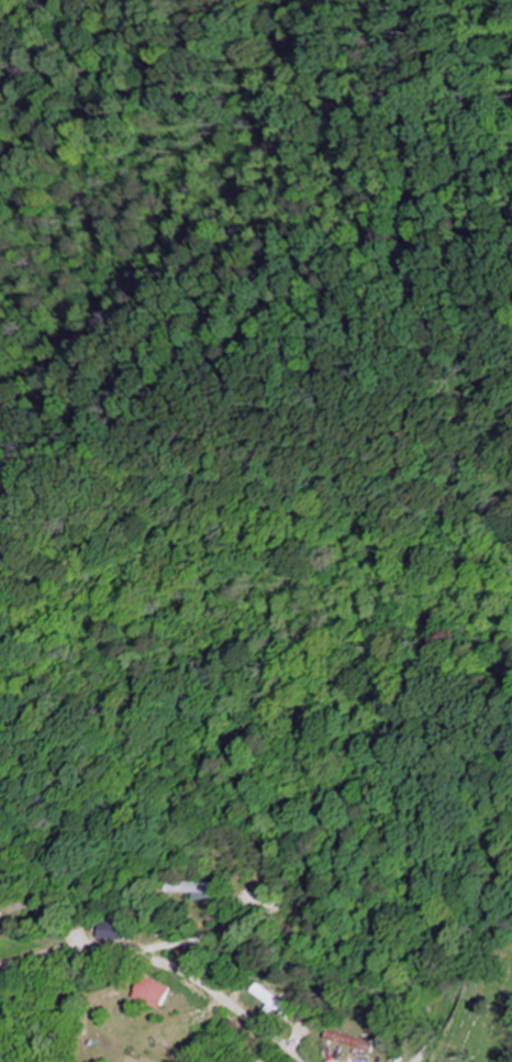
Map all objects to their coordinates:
building: (198, 889)
building: (110, 931)
road: (166, 963)
building: (152, 993)
park: (481, 1009)
road: (415, 1059)

